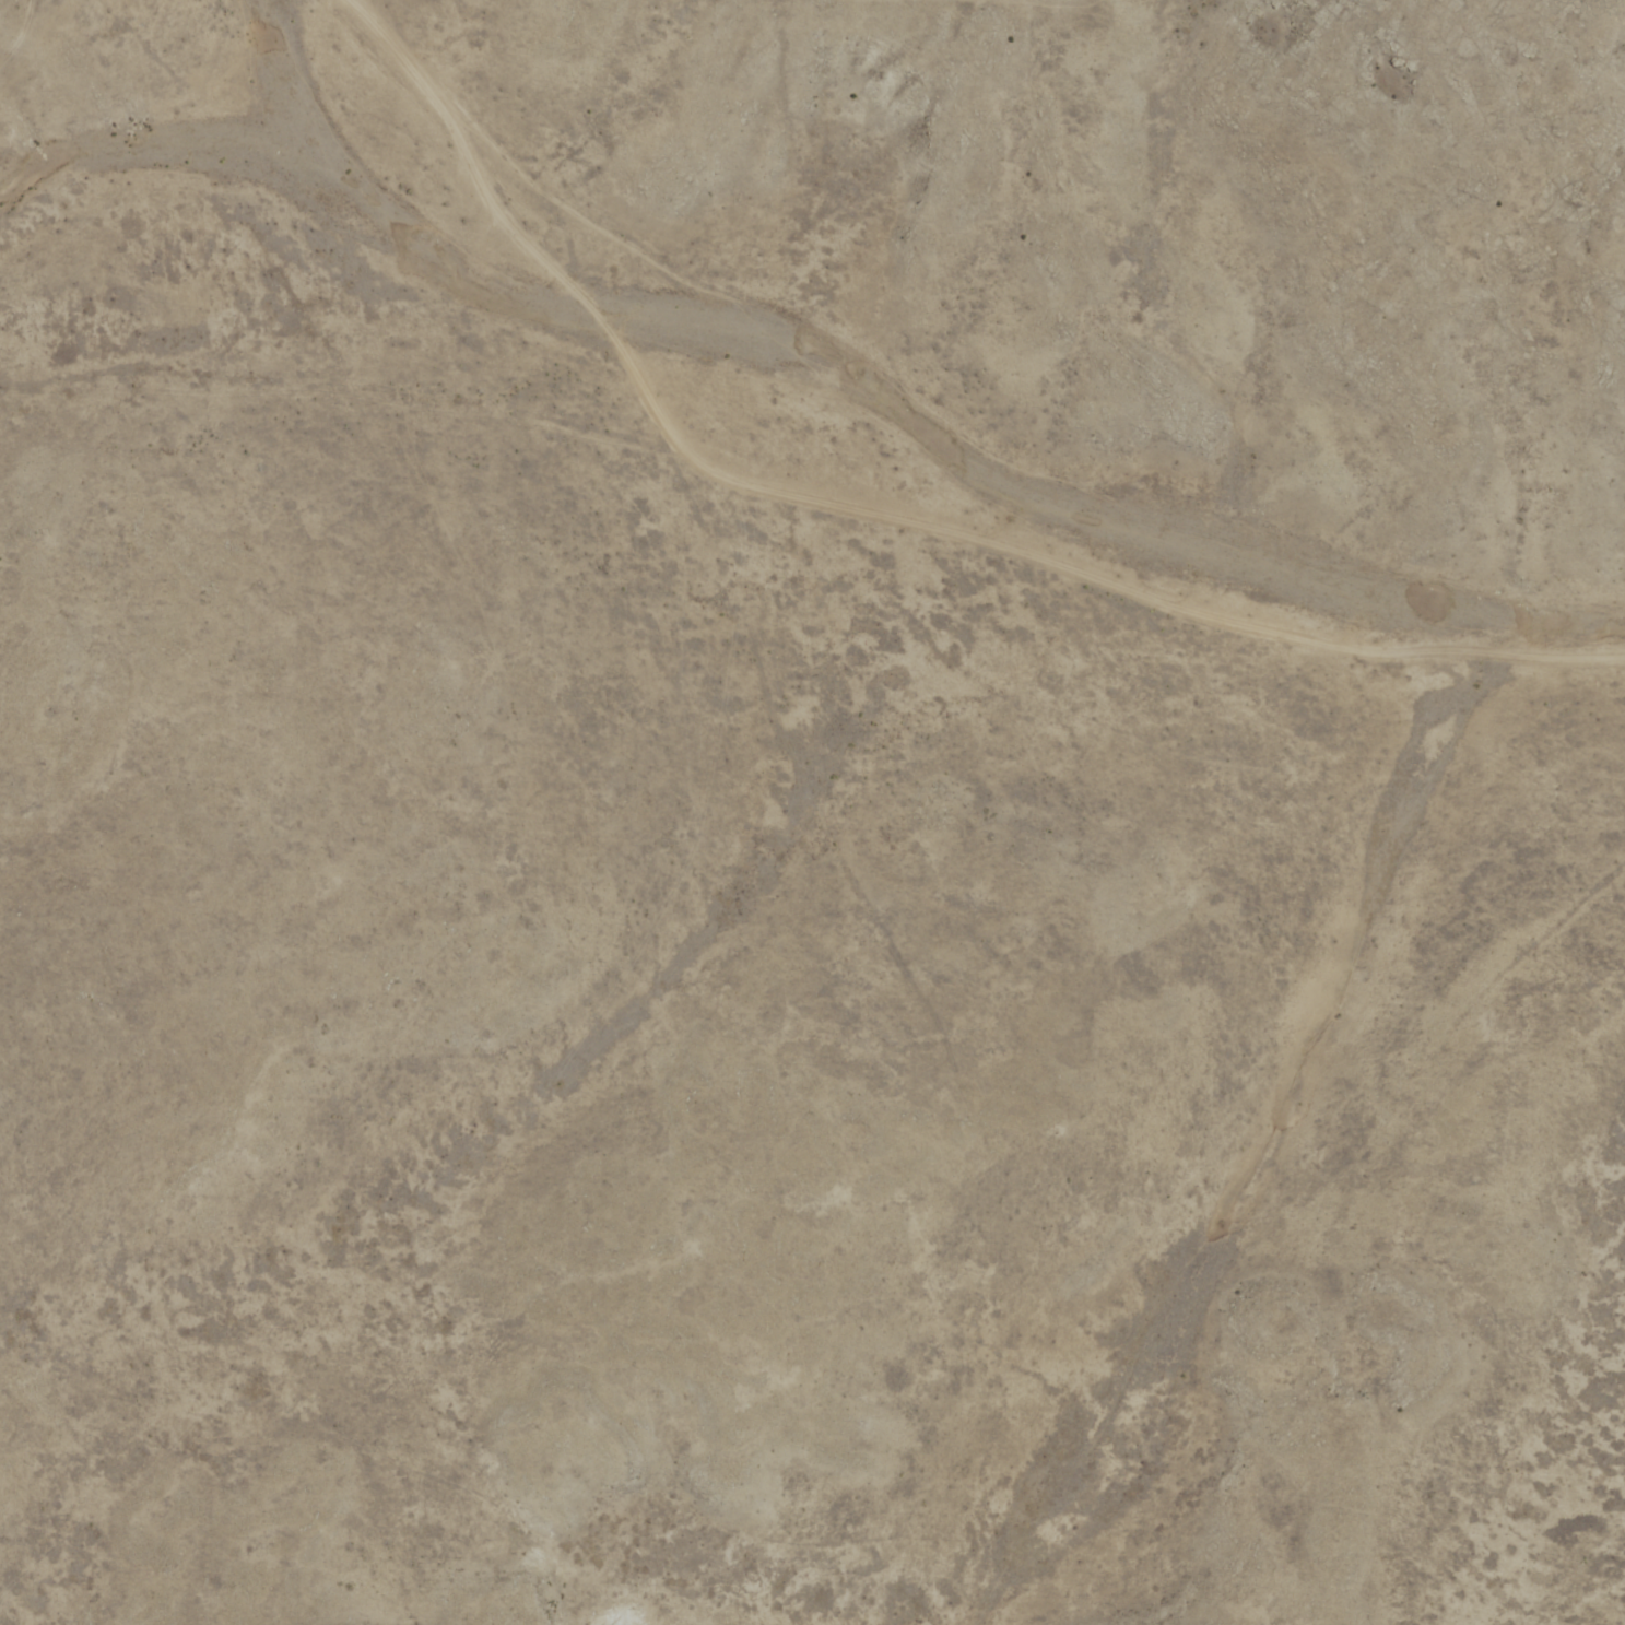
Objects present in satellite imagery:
road: (874, 518)

